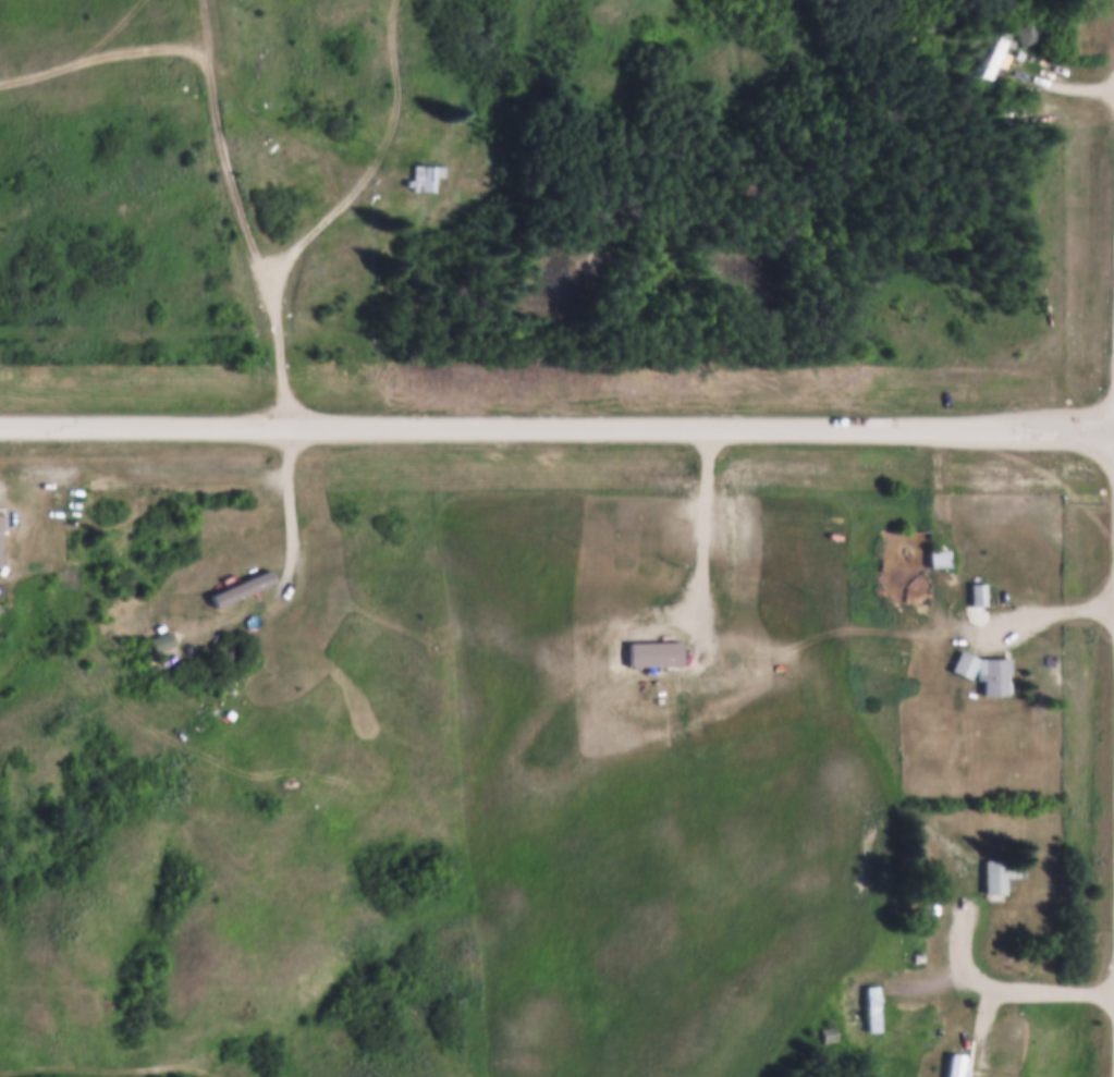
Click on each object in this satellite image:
building: (999, 52)
road: (77, 56)
building: (423, 174)
road: (287, 376)
road: (556, 427)
building: (351, 486)
building: (938, 555)
building: (246, 583)
building: (976, 592)
building: (232, 596)
road: (1041, 614)
building: (255, 624)
building: (982, 670)
building: (200, 715)
building: (996, 872)
road: (1003, 989)
building: (869, 1006)
building: (828, 1031)
building: (952, 1064)

